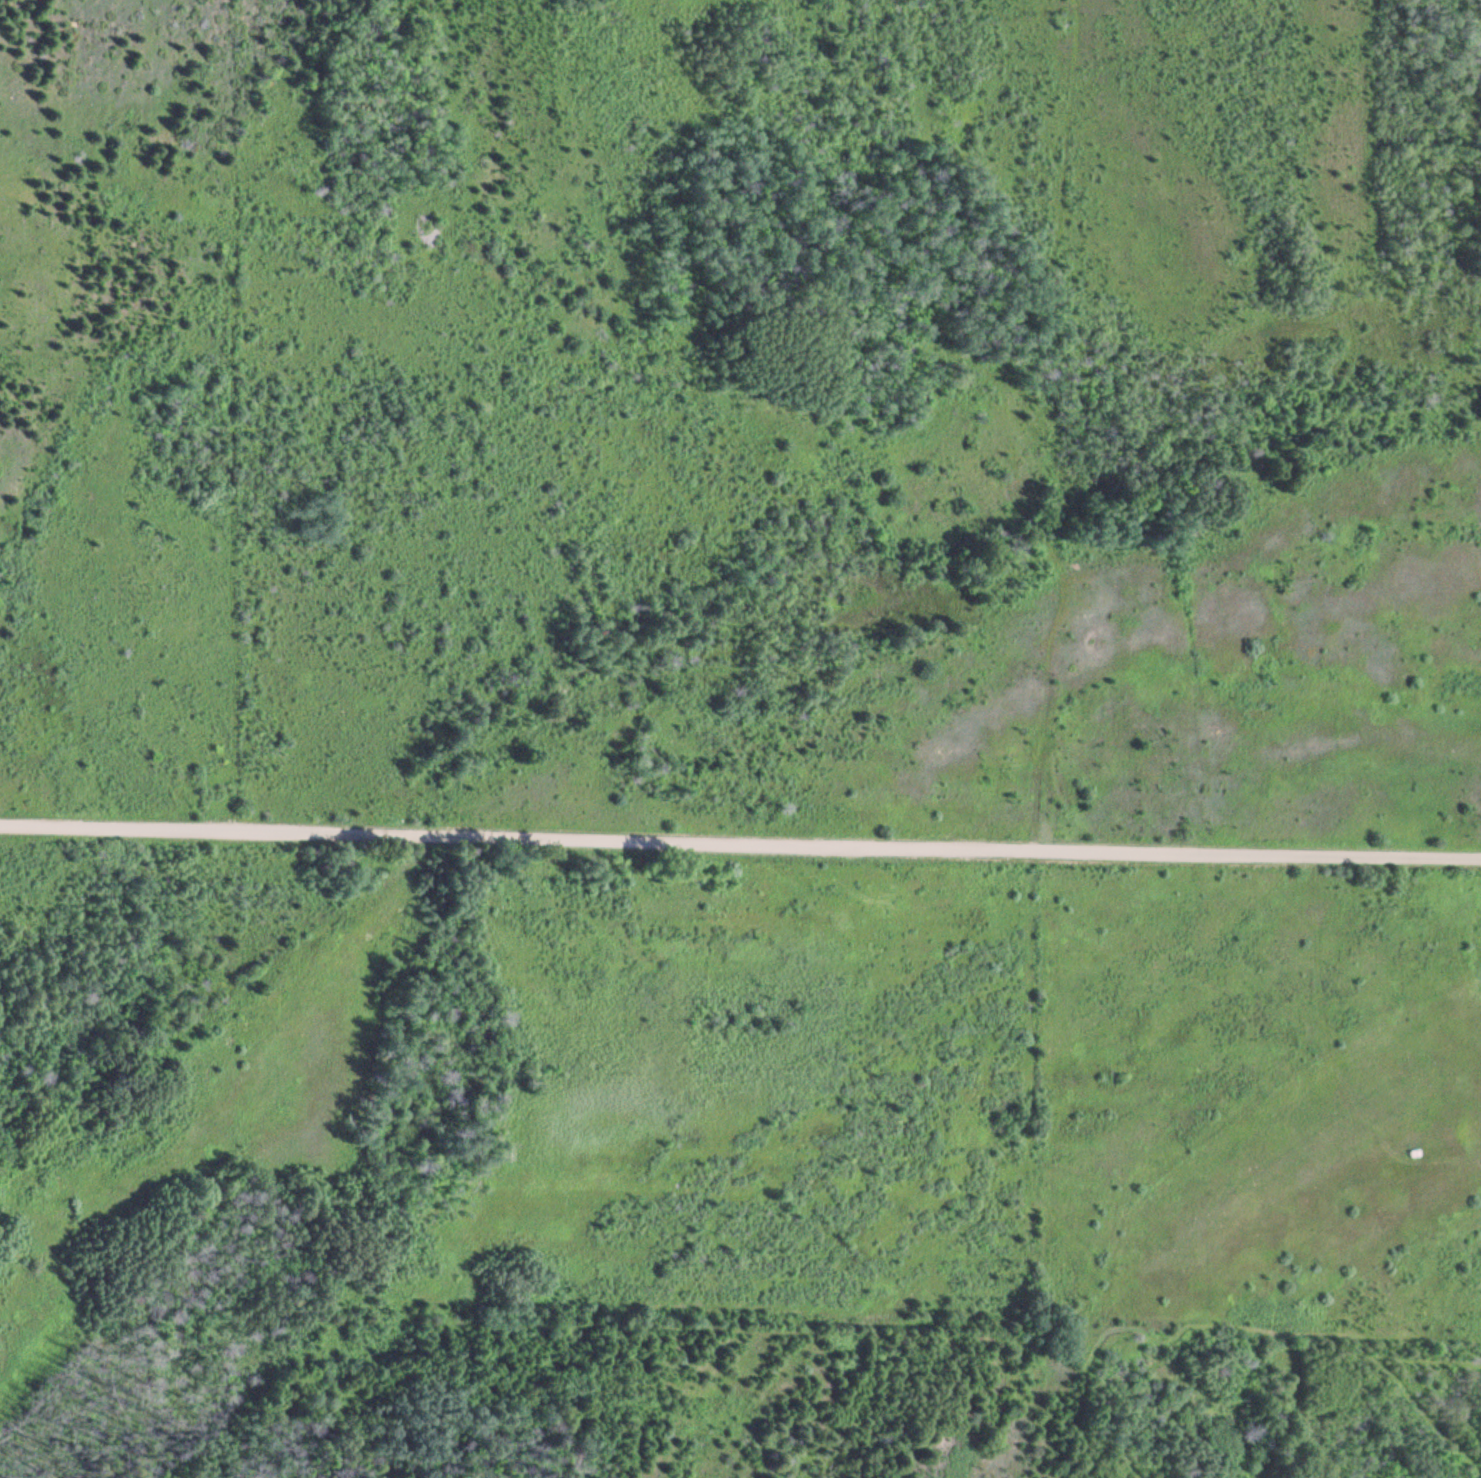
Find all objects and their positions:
road: (740, 845)

